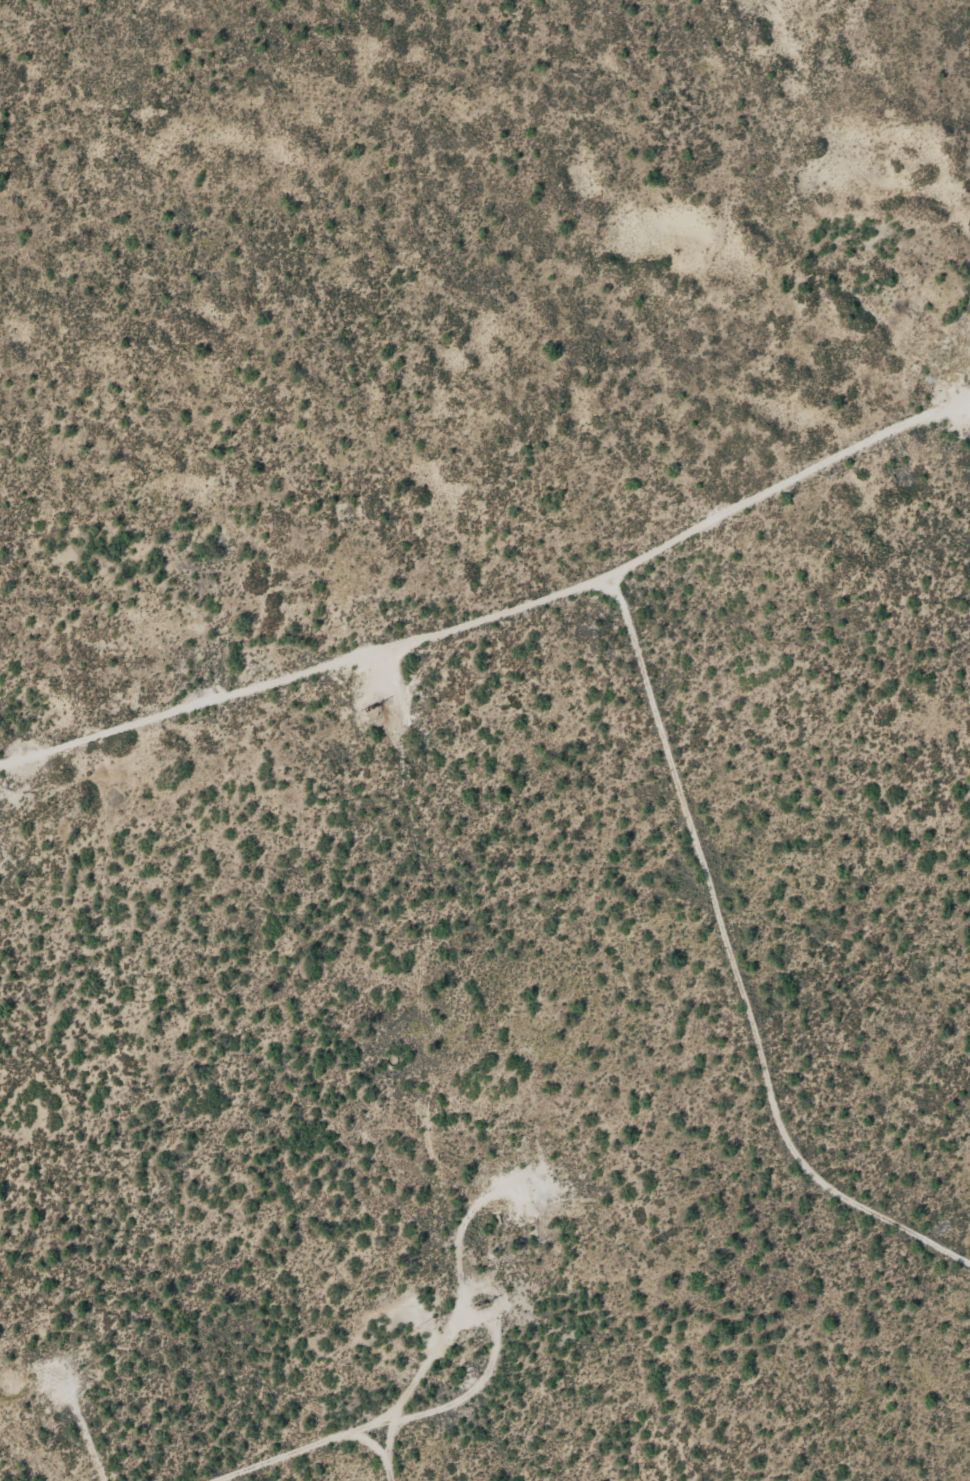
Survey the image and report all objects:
road: (493, 631)
road: (734, 965)
road: (449, 1141)
road: (409, 1458)

